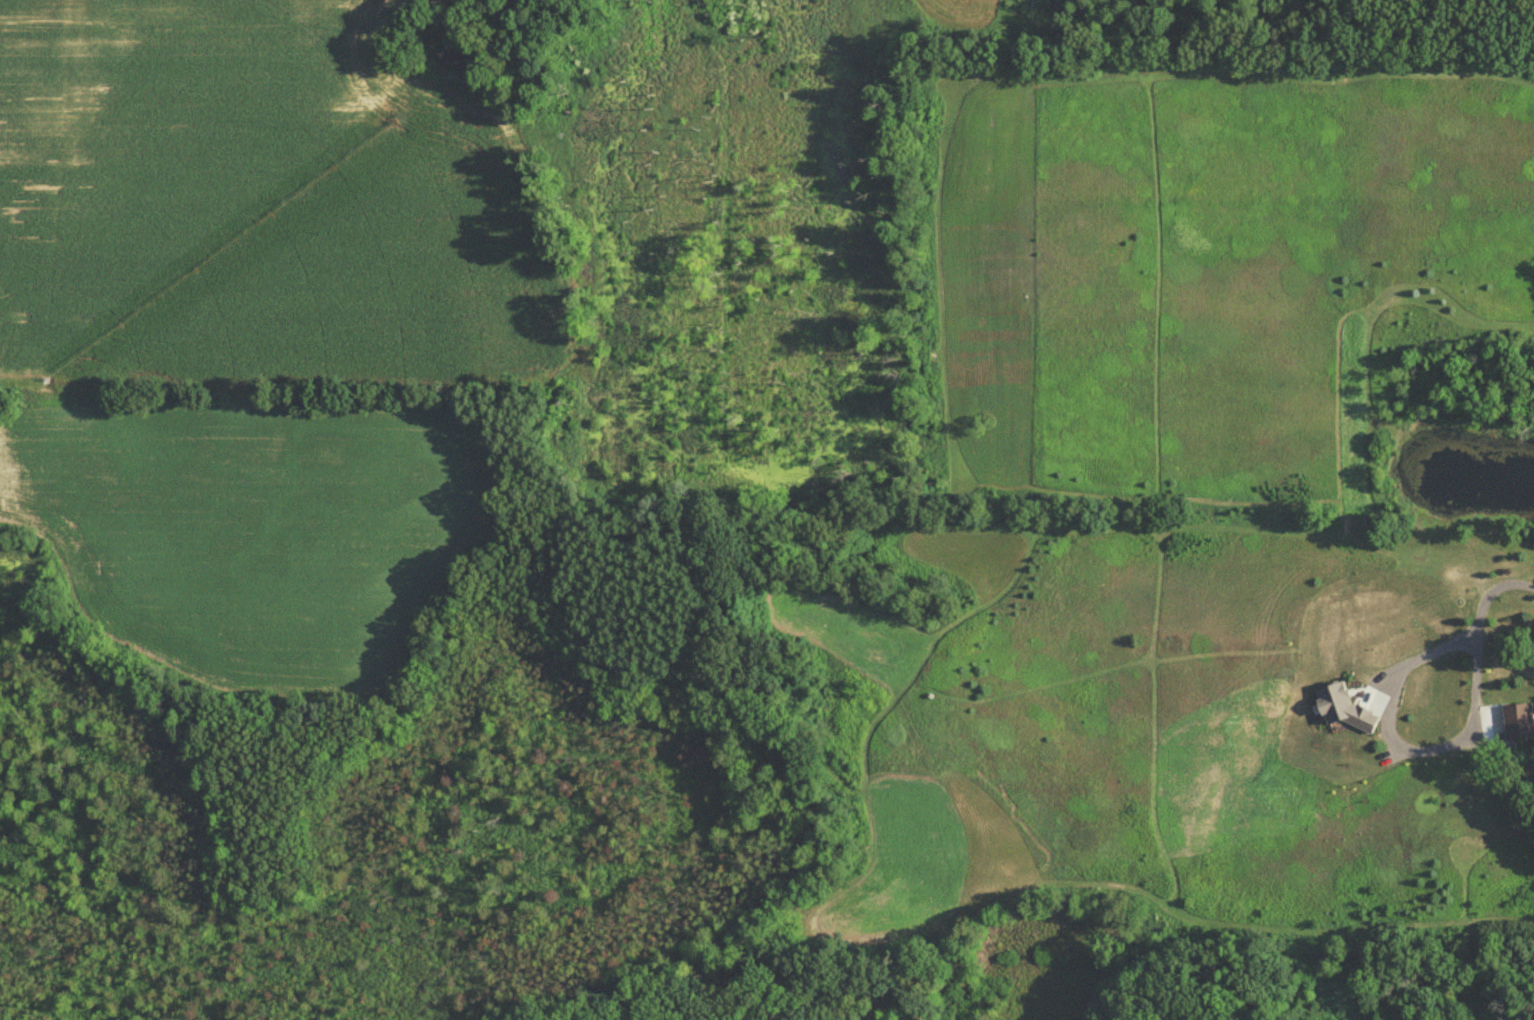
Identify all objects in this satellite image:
road: (1487, 589)
building: (1518, 726)
road: (1399, 743)

